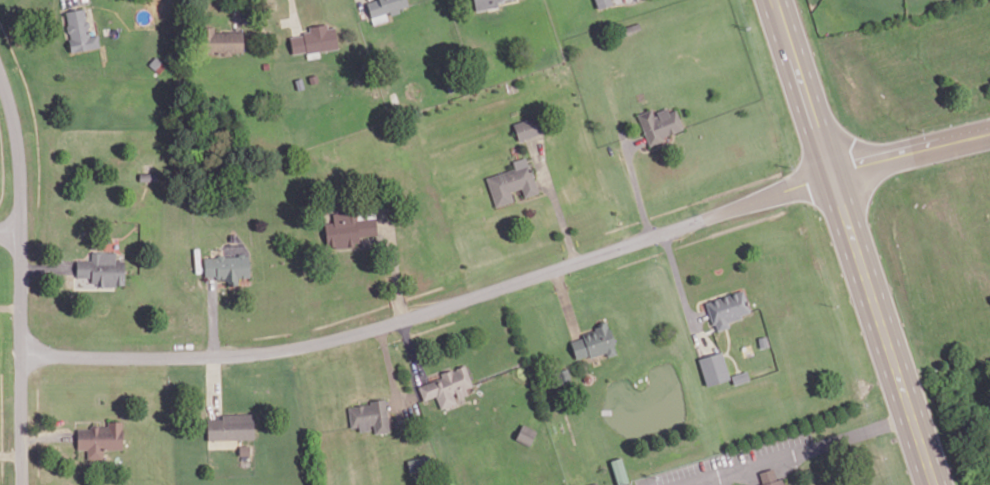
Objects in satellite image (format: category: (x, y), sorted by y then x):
building: (602, 3)
building: (485, 4)
building: (384, 8)
building: (79, 31)
building: (314, 39)
building: (224, 41)
building: (657, 123)
building: (527, 128)
road: (633, 142)
road: (656, 145)
road: (911, 153)
building: (512, 182)
road: (635, 184)
road: (554, 199)
building: (348, 229)
road: (11, 232)
road: (854, 242)
road: (394, 262)
building: (227, 267)
building: (103, 268)
road: (21, 275)
road: (683, 292)
road: (565, 300)
road: (10, 305)
building: (725, 307)
road: (435, 308)
road: (212, 316)
building: (762, 340)
building: (593, 343)
road: (410, 348)
road: (388, 362)
building: (712, 367)
building: (739, 376)
road: (214, 385)
building: (446, 387)
building: (370, 416)
building: (231, 427)
road: (47, 435)
building: (101, 436)
road: (798, 450)
road: (10, 453)
building: (619, 470)
building: (768, 477)
building: (593, 483)

